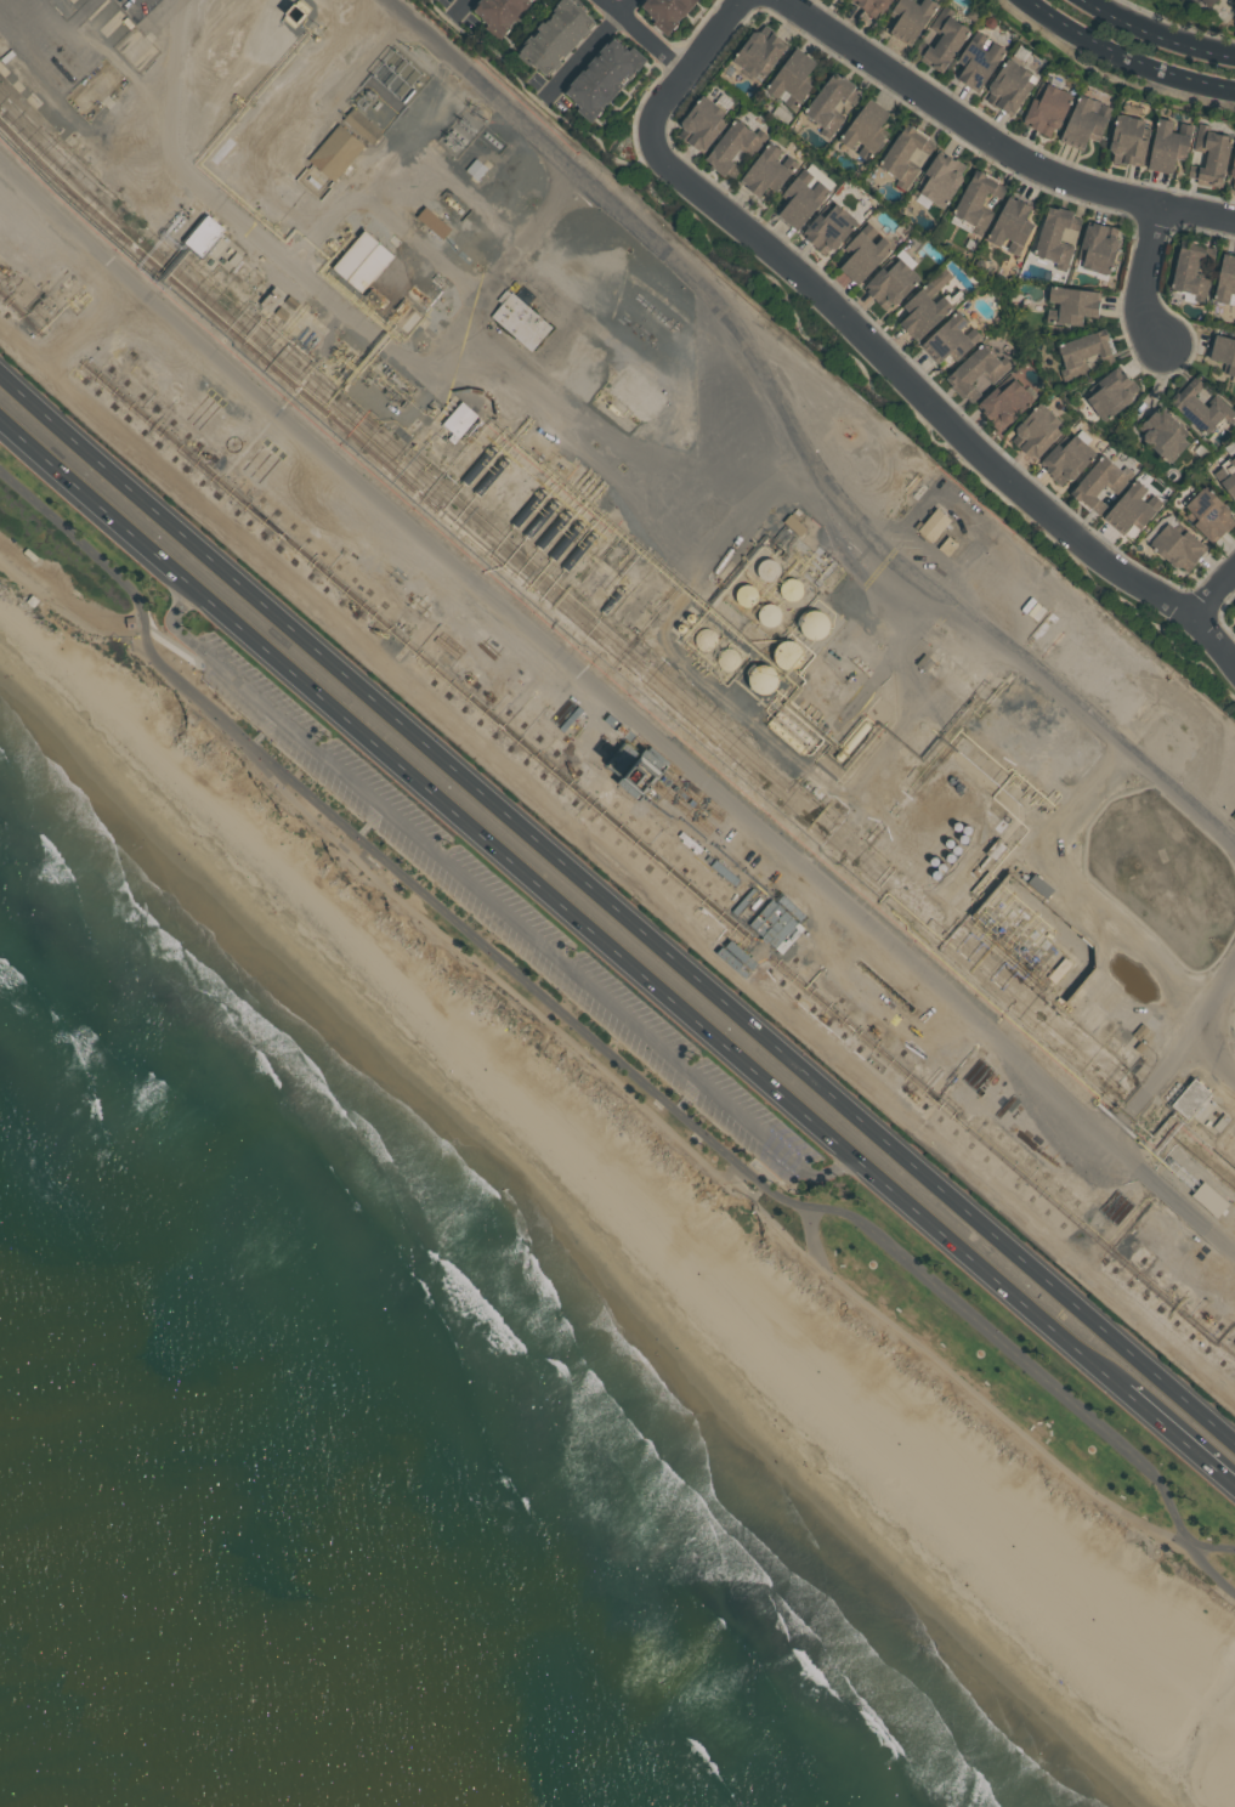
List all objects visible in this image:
park: (1126, 2)
building: (1207, 2)
building: (871, 5)
road: (463, 9)
building: (665, 11)
building: (498, 13)
building: (908, 19)
road: (647, 35)
road: (1155, 36)
building: (554, 38)
building: (941, 40)
road: (591, 51)
building: (758, 52)
building: (6, 56)
road: (1124, 57)
building: (975, 62)
road: (693, 66)
building: (601, 78)
building: (791, 80)
building: (1008, 86)
building: (829, 102)
building: (1046, 109)
building: (1083, 123)
building: (701, 124)
building: (368, 126)
building: (863, 129)
building: (1127, 136)
road: (995, 143)
building: (732, 147)
building: (1166, 147)
building: (341, 151)
building: (905, 153)
building: (1208, 158)
building: (480, 169)
building: (1231, 171)
building: (766, 172)
building: (937, 181)
building: (800, 200)
building: (975, 200)
building: (441, 223)
building: (1010, 226)
building: (828, 230)
building: (213, 233)
building: (1054, 238)
building: (1095, 249)
building: (230, 250)
building: (364, 253)
building: (862, 254)
road: (517, 255)
building: (234, 257)
building: (221, 259)
building: (209, 260)
building: (381, 266)
building: (1190, 270)
road: (1148, 277)
building: (1225, 281)
building: (889, 282)
building: (273, 298)
building: (291, 300)
building: (1070, 304)
building: (925, 306)
building: (282, 311)
building: (525, 322)
road: (86, 323)
building: (948, 339)
building: (1083, 353)
building: (1223, 356)
building: (372, 372)
road: (419, 372)
building: (975, 372)
building: (1110, 393)
building: (1003, 403)
road: (937, 407)
building: (1199, 409)
building: (464, 423)
building: (1035, 431)
building: (1162, 435)
road: (798, 437)
building: (1069, 458)
building: (1233, 461)
building: (478, 464)
building: (492, 474)
building: (1226, 481)
building: (1099, 483)
building: (528, 506)
building: (1131, 509)
building: (797, 511)
building: (1207, 515)
building: (540, 519)
building: (794, 523)
building: (939, 525)
building: (551, 529)
building: (567, 538)
building: (1174, 544)
building: (953, 545)
building: (579, 549)
building: (767, 568)
building: (791, 588)
road: (1216, 593)
building: (746, 594)
building: (612, 600)
building: (36, 604)
building: (1035, 611)
building: (769, 613)
building: (690, 617)
building: (1234, 619)
building: (816, 623)
building: (681, 627)
building: (703, 639)
building: (789, 653)
road: (885, 656)
building: (726, 659)
building: (923, 663)
building: (763, 676)
road: (614, 706)
road: (736, 710)
building: (794, 725)
building: (852, 741)
road: (443, 752)
road: (427, 788)
building: (993, 850)
road: (616, 866)
road: (471, 880)
parking lot: (506, 912)
road: (783, 930)
building: (1019, 940)
road: (483, 963)
building: (1139, 1032)
road: (596, 1040)
building: (1138, 1048)
road: (1213, 1050)
road: (1172, 1054)
building: (1197, 1099)
building: (1213, 1114)
building: (1218, 1123)
building: (1206, 1125)
road: (829, 1172)
road: (816, 1236)
road: (986, 1270)
road: (1061, 1285)
road: (1175, 1432)
road: (1029, 1437)

